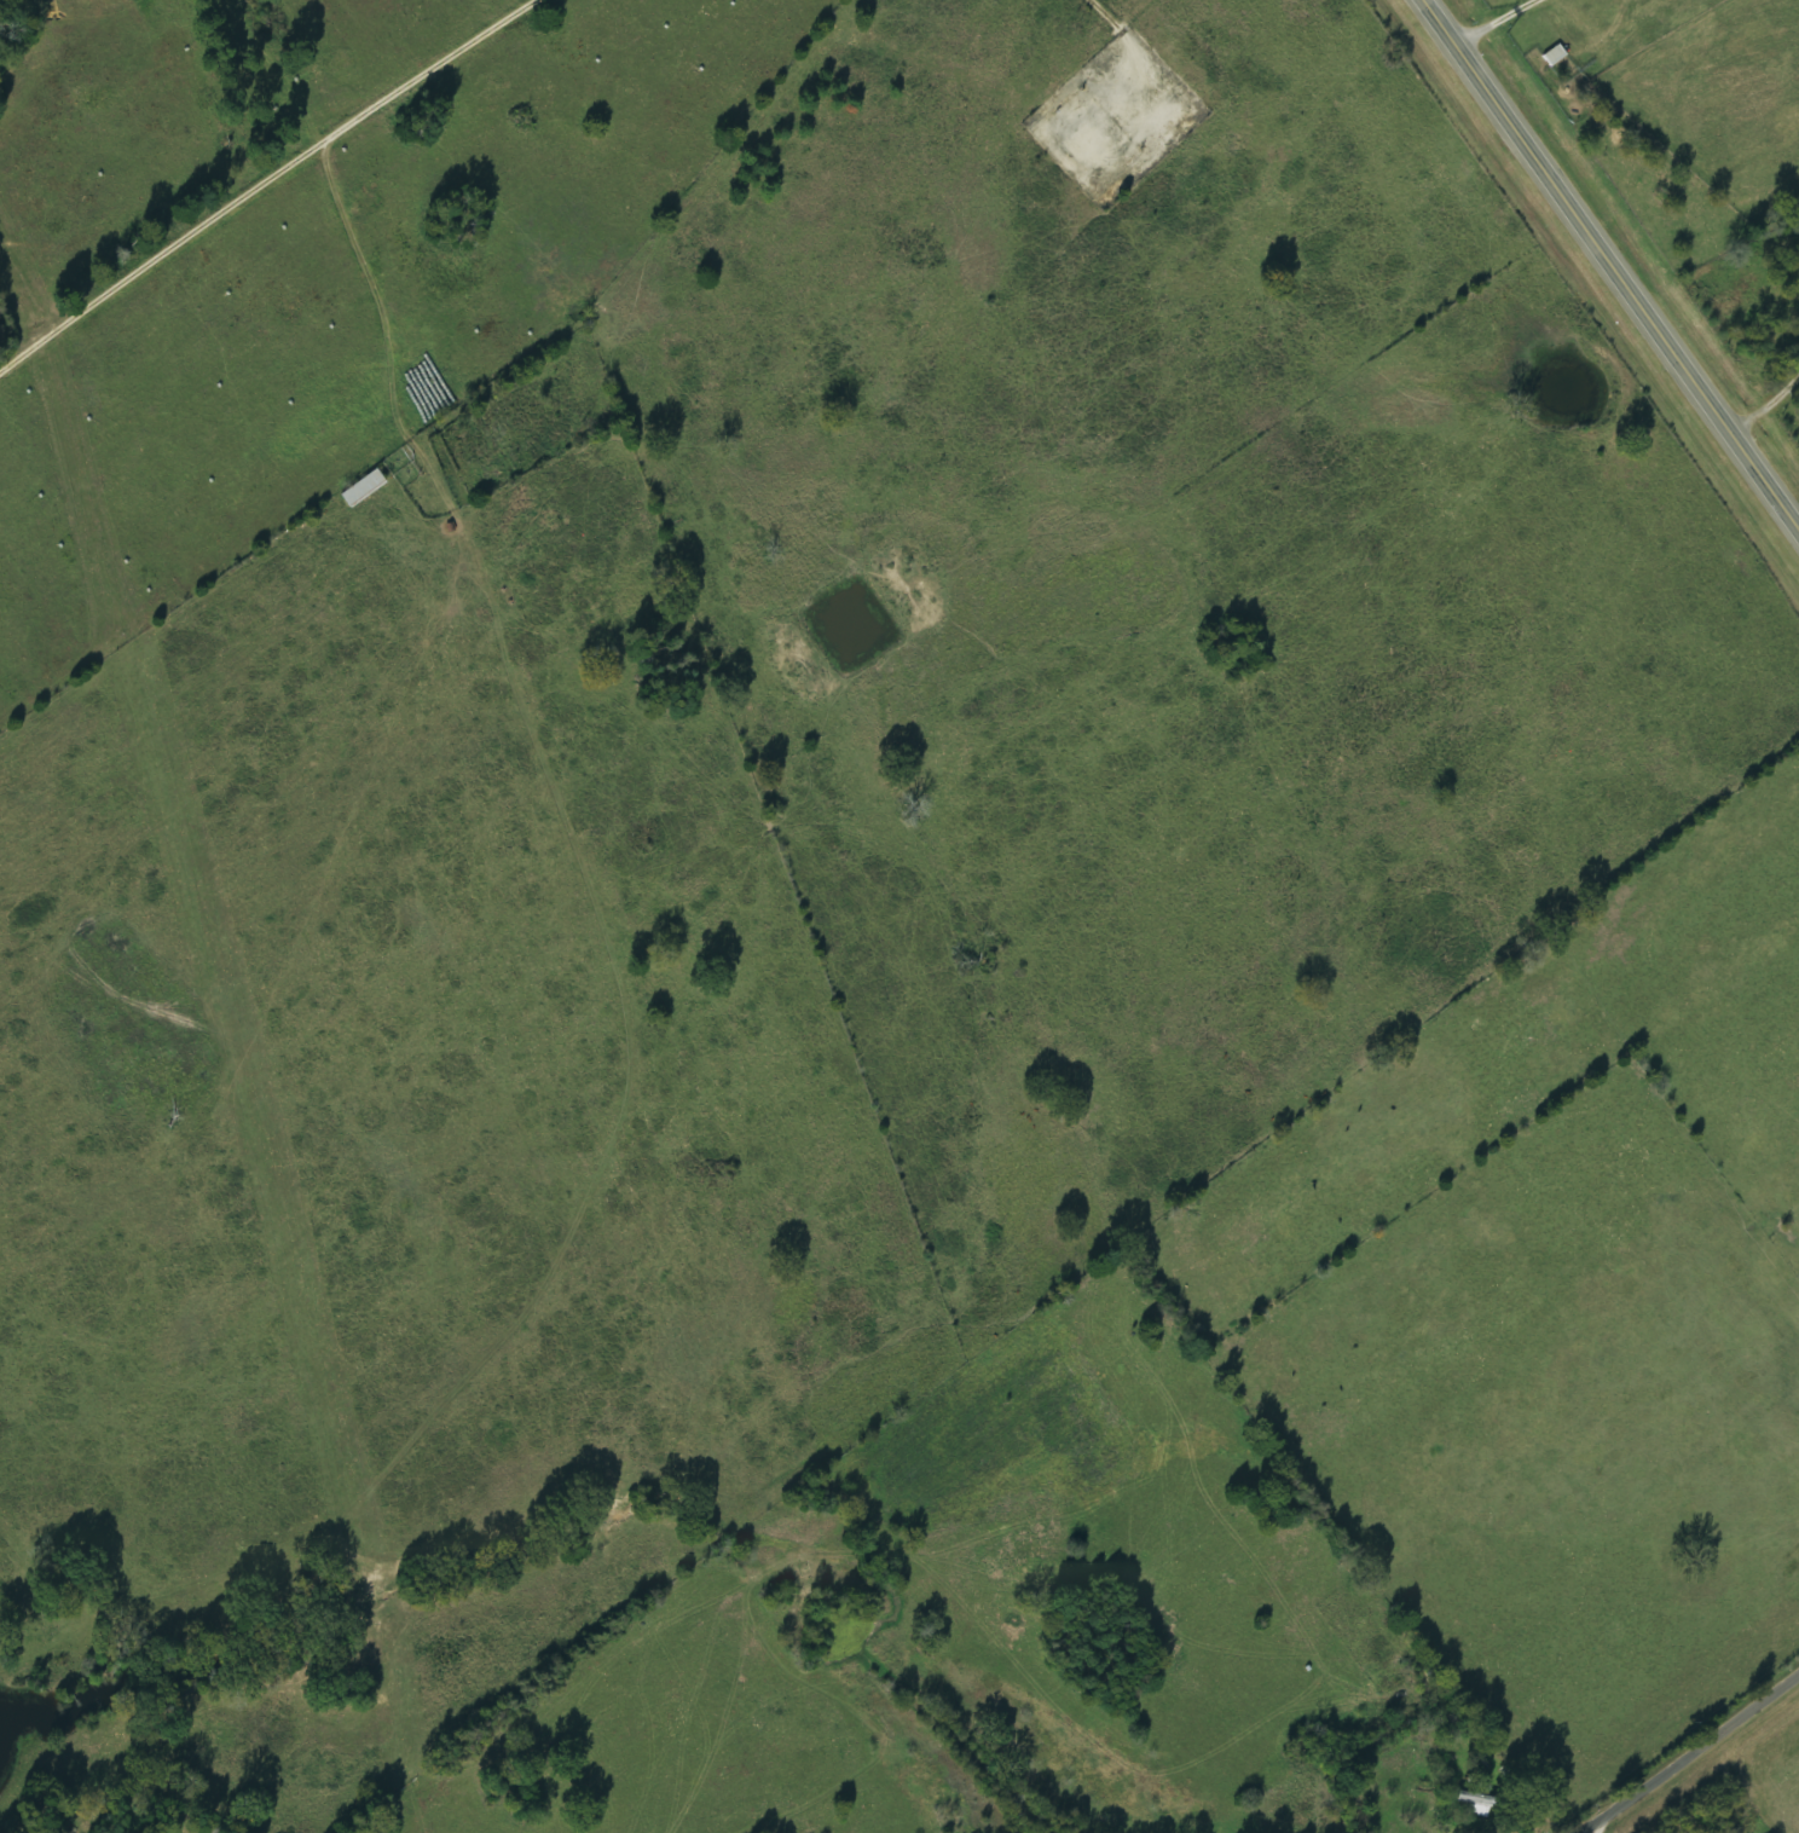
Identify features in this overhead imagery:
road: (1608, 260)
road: (1694, 1759)
building: (1476, 1803)

